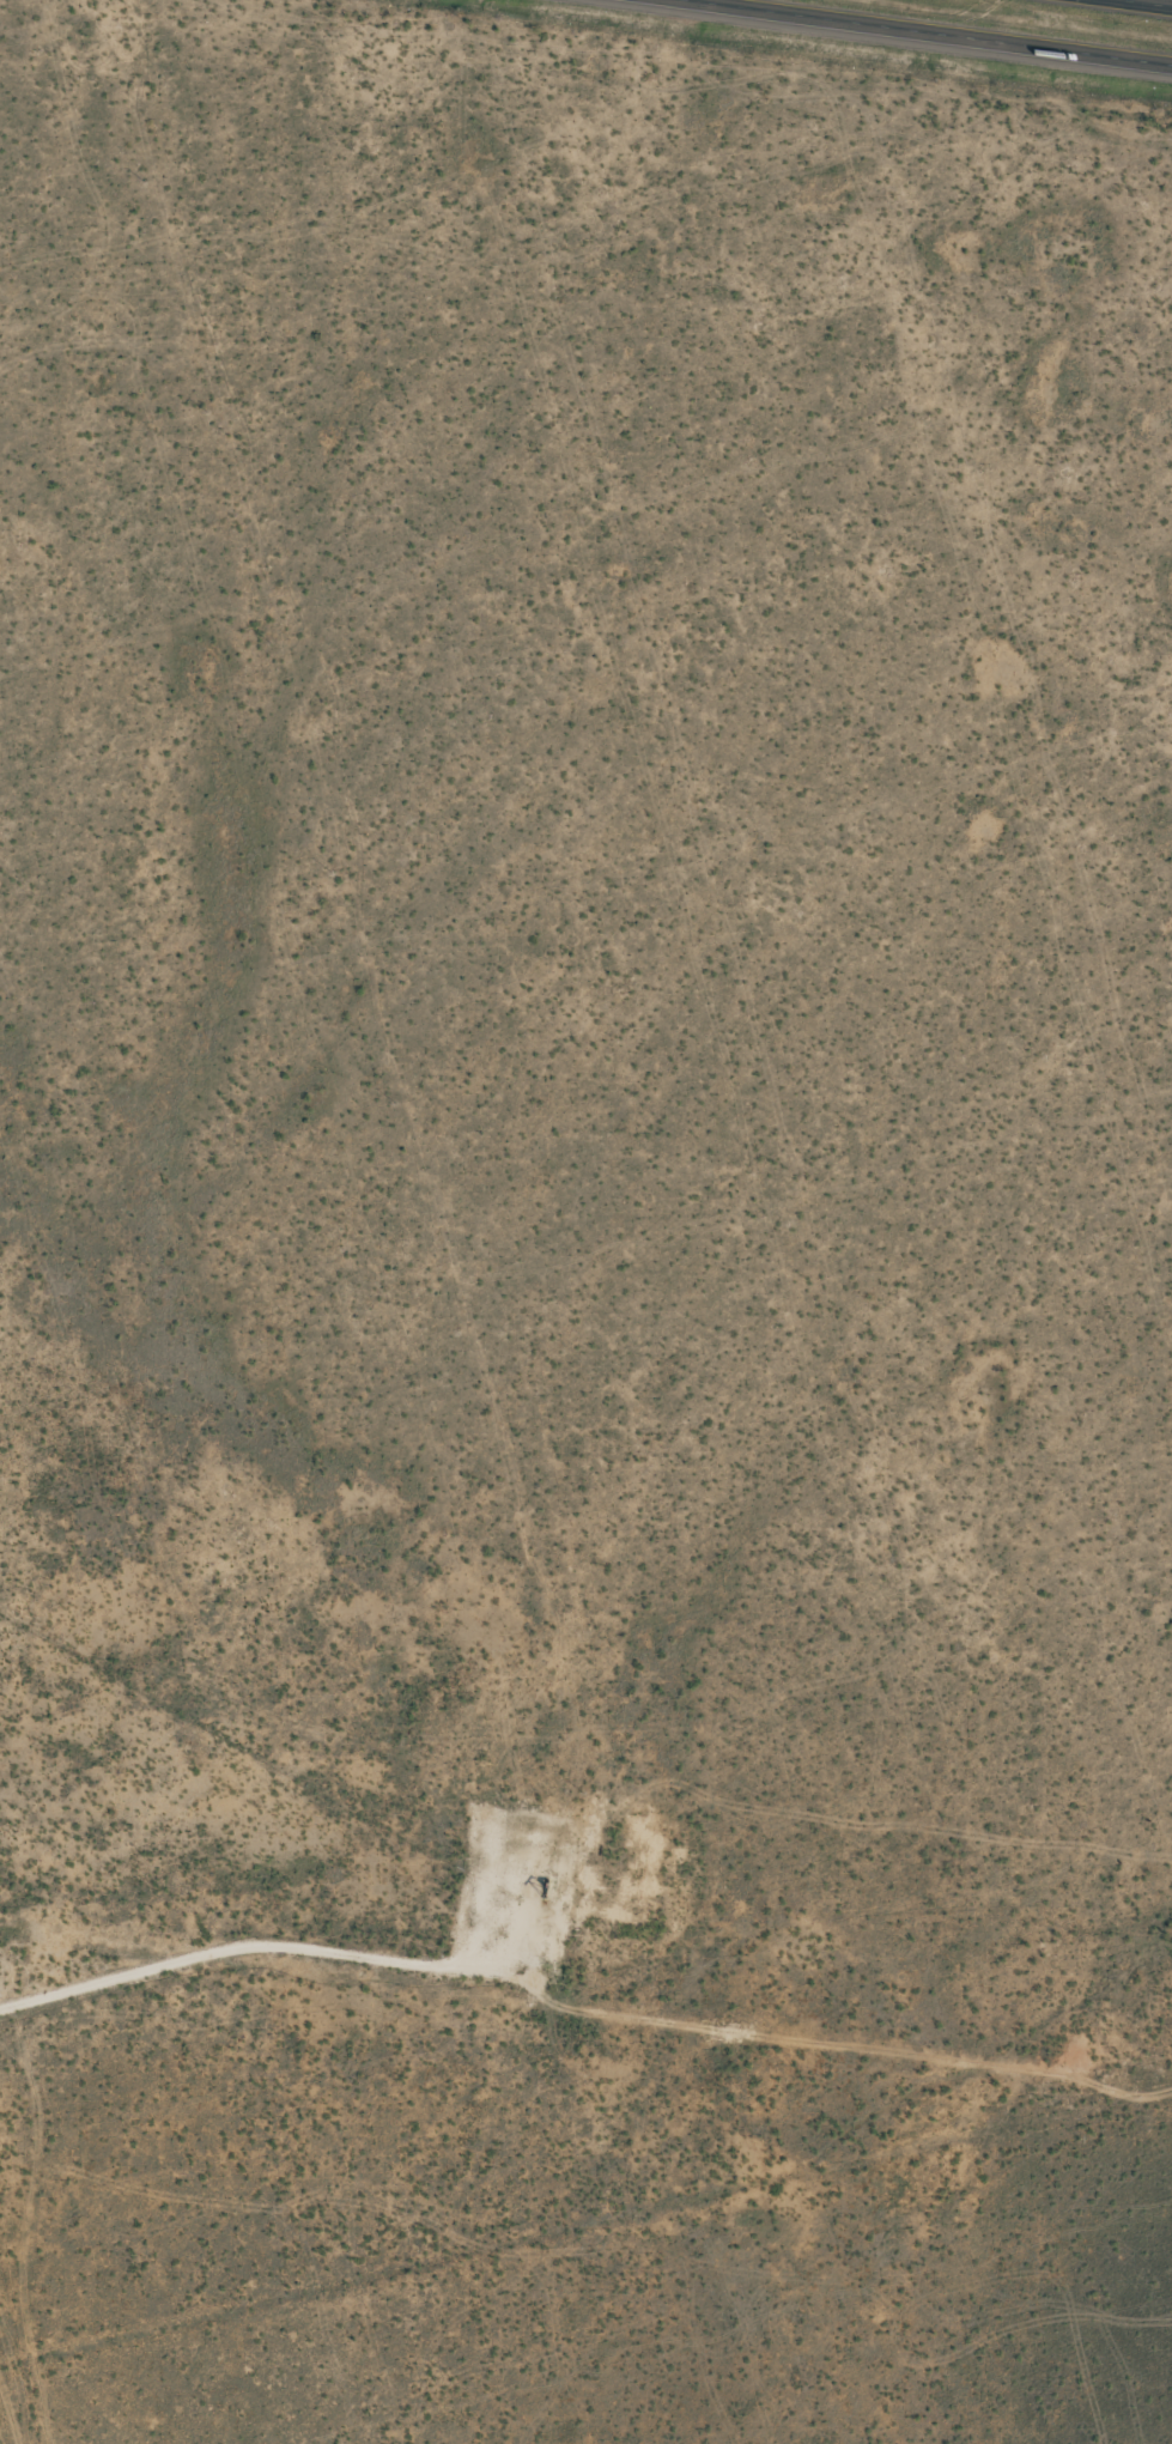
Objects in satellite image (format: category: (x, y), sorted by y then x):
road: (1137, 4)
road: (919, 34)

